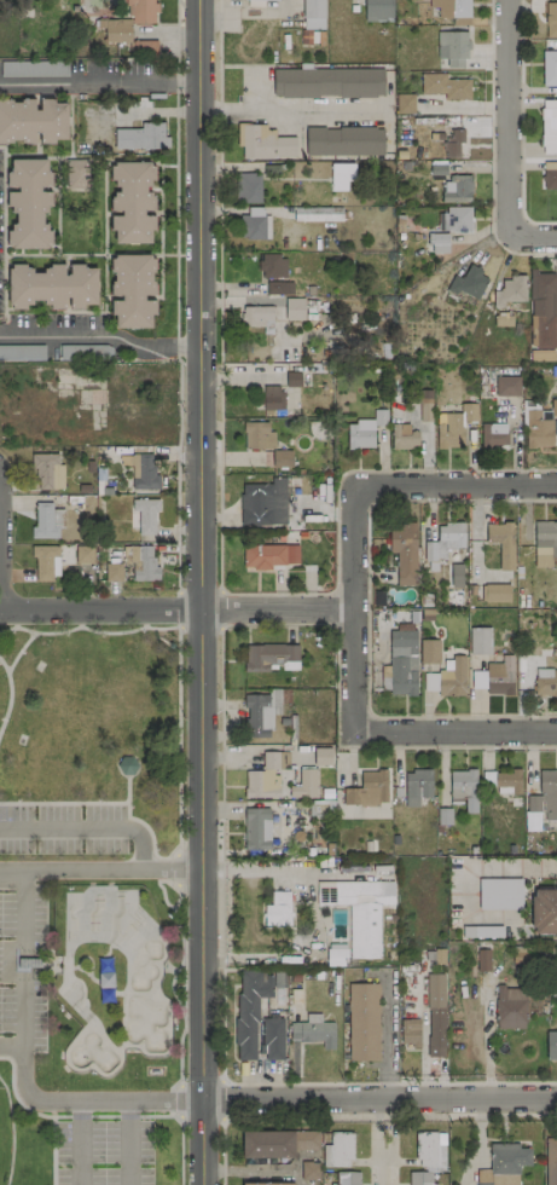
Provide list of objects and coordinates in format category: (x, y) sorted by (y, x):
building: (272, 0)
building: (451, 8)
building: (377, 10)
building: (313, 15)
building: (128, 21)
building: (551, 21)
building: (141, 47)
building: (452, 48)
building: (549, 68)
building: (327, 82)
road: (99, 83)
building: (445, 86)
building: (405, 104)
road: (289, 106)
road: (507, 109)
road: (489, 114)
building: (33, 121)
road: (520, 126)
building: (549, 127)
building: (141, 137)
building: (343, 141)
building: (263, 143)
building: (453, 144)
building: (550, 166)
building: (341, 175)
building: (550, 179)
building: (248, 189)
building: (457, 189)
building: (130, 202)
building: (28, 203)
building: (317, 214)
building: (254, 224)
building: (448, 227)
road: (527, 237)
road: (517, 253)
building: (272, 266)
building: (468, 283)
building: (51, 287)
building: (279, 288)
building: (133, 291)
building: (509, 291)
road: (219, 301)
building: (294, 310)
building: (543, 312)
building: (257, 318)
road: (100, 336)
building: (540, 355)
building: (506, 386)
building: (272, 397)
building: (553, 407)
building: (424, 409)
building: (454, 427)
building: (364, 430)
building: (536, 430)
building: (493, 434)
building: (257, 435)
building: (402, 437)
building: (282, 458)
building: (47, 472)
building: (141, 472)
road: (341, 473)
road: (396, 485)
building: (263, 503)
building: (144, 515)
building: (46, 521)
building: (443, 542)
building: (500, 543)
building: (544, 543)
building: (404, 551)
building: (83, 554)
building: (268, 555)
road: (0, 561)
building: (45, 561)
building: (145, 565)
building: (112, 572)
building: (456, 576)
road: (199, 591)
building: (495, 592)
road: (219, 607)
road: (176, 608)
road: (175, 611)
building: (478, 641)
building: (429, 652)
building: (269, 657)
building: (402, 663)
building: (499, 676)
building: (452, 678)
building: (477, 680)
building: (430, 682)
building: (545, 682)
building: (260, 713)
road: (178, 724)
road: (396, 732)
building: (321, 756)
building: (274, 759)
building: (126, 765)
building: (501, 782)
building: (303, 784)
building: (261, 785)
building: (417, 786)
building: (464, 788)
building: (367, 790)
building: (541, 802)
road: (116, 825)
building: (256, 828)
road: (178, 838)
road: (220, 852)
road: (491, 866)
road: (175, 869)
road: (71, 872)
building: (499, 894)
road: (162, 896)
park: (87, 907)
building: (278, 909)
building: (358, 911)
building: (544, 911)
road: (309, 913)
building: (336, 955)
road: (7, 958)
building: (482, 960)
road: (176, 969)
park: (111, 978)
building: (510, 1007)
building: (249, 1010)
building: (435, 1015)
building: (362, 1022)
building: (313, 1030)
building: (410, 1031)
building: (272, 1039)
road: (387, 1039)
building: (551, 1046)
road: (179, 1057)
road: (222, 1098)
road: (178, 1099)
road: (378, 1099)
road: (17, 1100)
road: (79, 1102)
road: (101, 1115)
road: (76, 1116)
road: (126, 1116)
road: (157, 1116)
road: (389, 1118)
park: (6, 1137)
building: (304, 1140)
road: (378, 1141)
road: (79, 1143)
road: (124, 1143)
building: (266, 1144)
road: (181, 1150)
building: (337, 1150)
road: (222, 1151)
building: (429, 1151)
building: (550, 1161)
building: (504, 1164)
building: (309, 1170)
building: (346, 1178)
building: (269, 1184)

